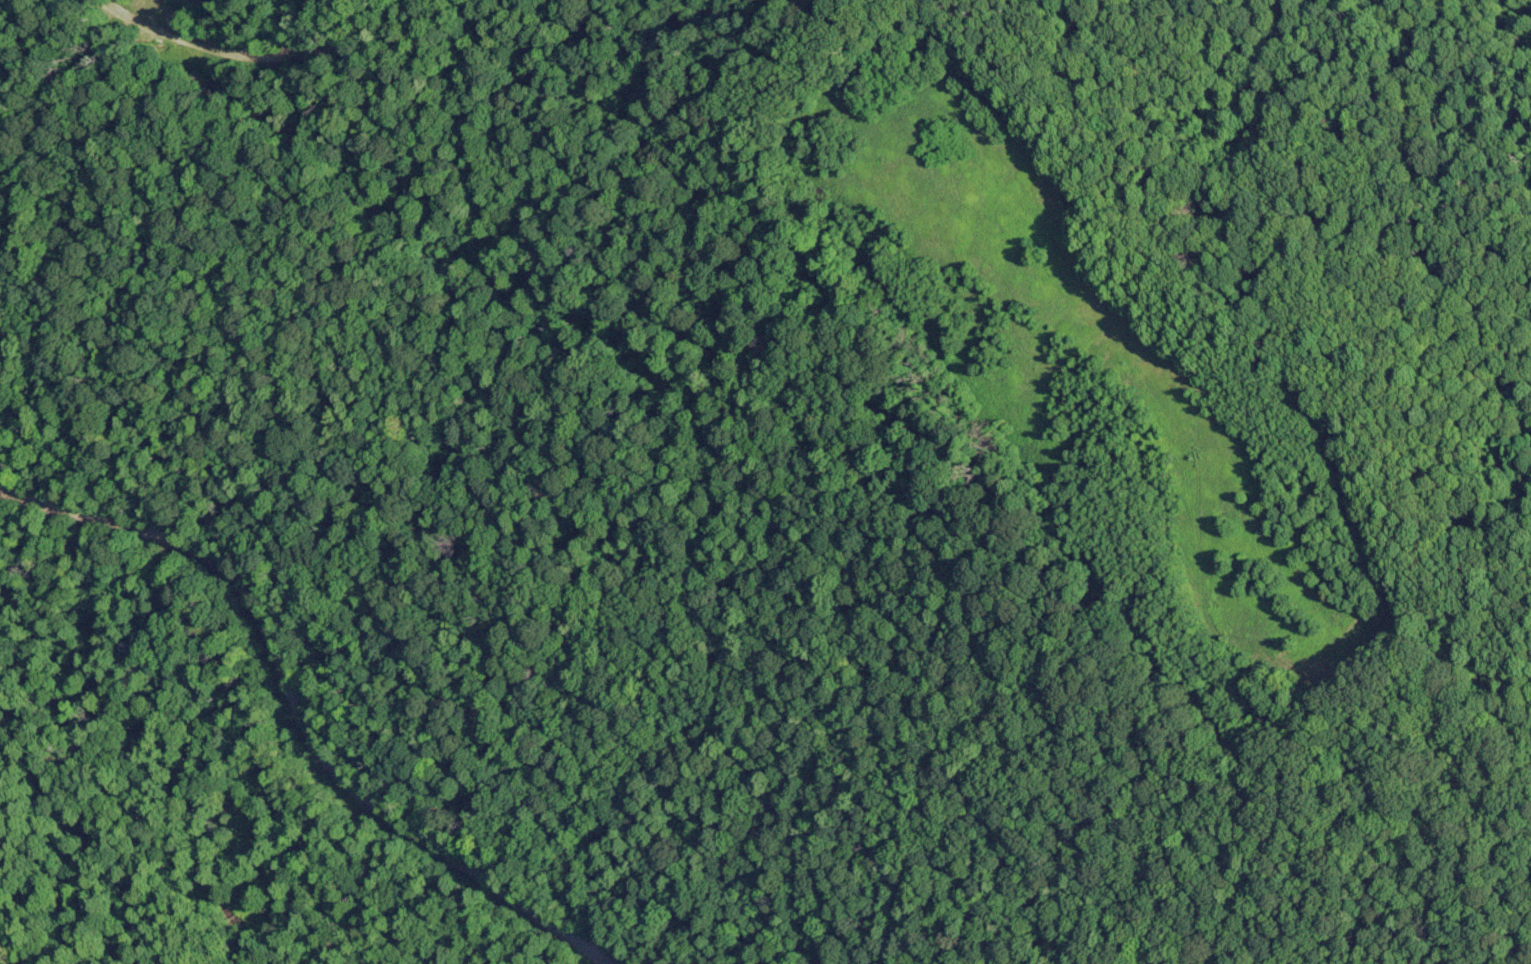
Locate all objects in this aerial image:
road: (303, 712)

